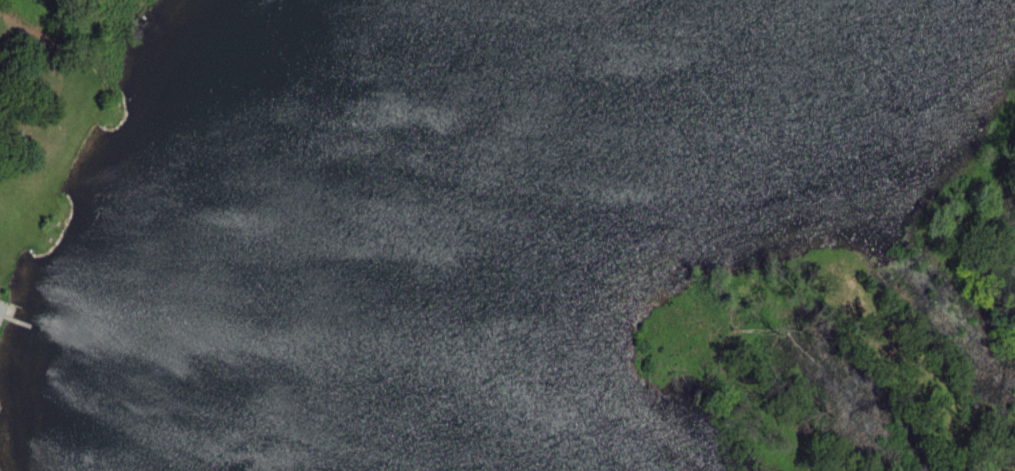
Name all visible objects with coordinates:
parking lot: (2, 308)
road: (12, 309)

